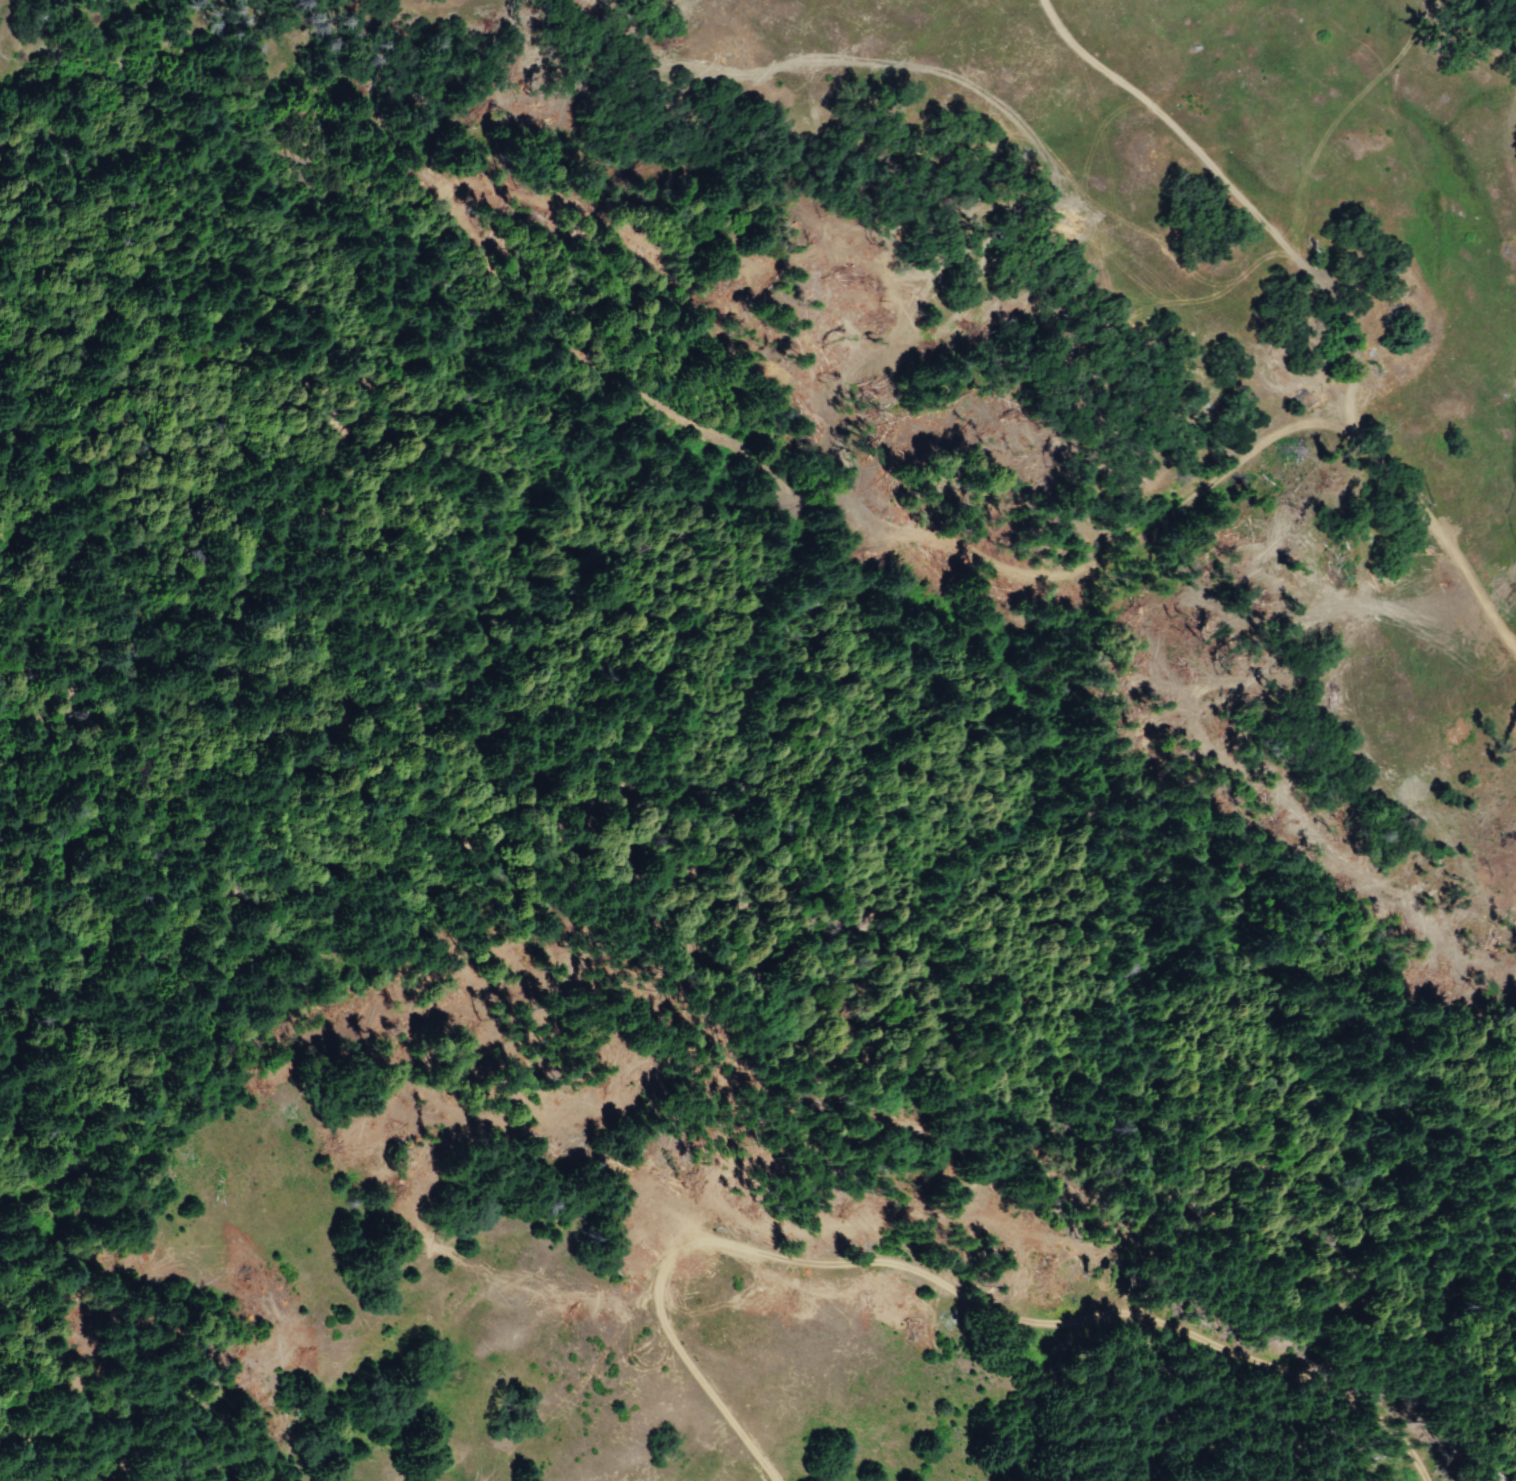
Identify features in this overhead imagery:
road: (1304, 293)

